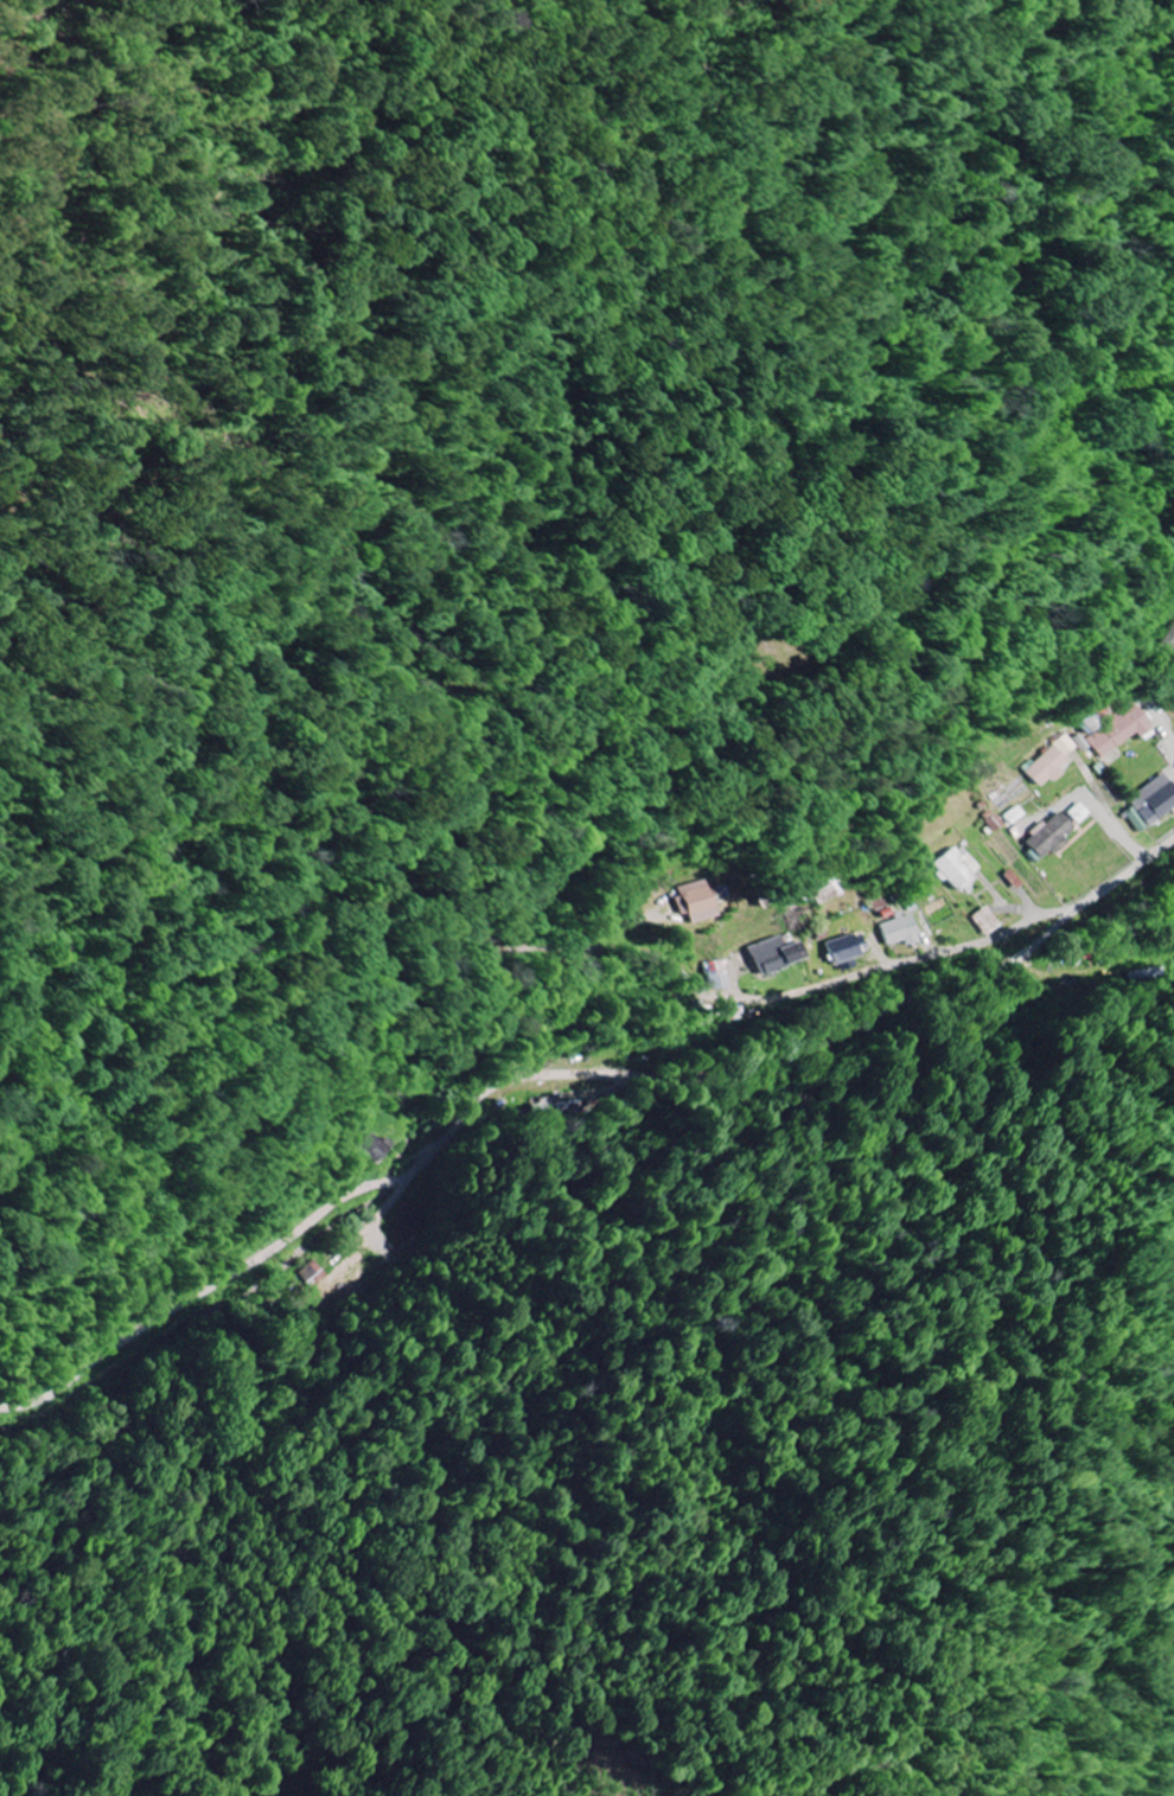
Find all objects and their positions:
building: (1168, 644)
road: (741, 703)
building: (1119, 731)
building: (1082, 743)
building: (1046, 769)
building: (1151, 805)
building: (1078, 814)
building: (1047, 838)
building: (957, 869)
building: (696, 903)
building: (984, 923)
building: (898, 932)
building: (843, 950)
building: (774, 957)
building: (715, 977)
road: (792, 995)
road: (510, 1082)
building: (372, 1148)
building: (407, 1222)
building: (313, 1276)

